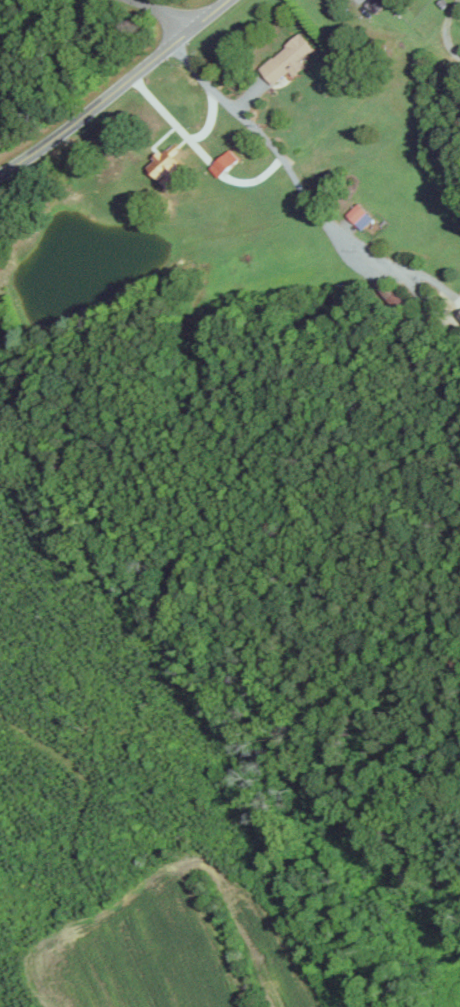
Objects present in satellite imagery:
building: (376, 4)
road: (164, 12)
road: (445, 29)
building: (289, 59)
road: (116, 88)
road: (168, 111)
building: (224, 162)
building: (165, 163)
road: (297, 181)
building: (360, 216)
building: (459, 317)

